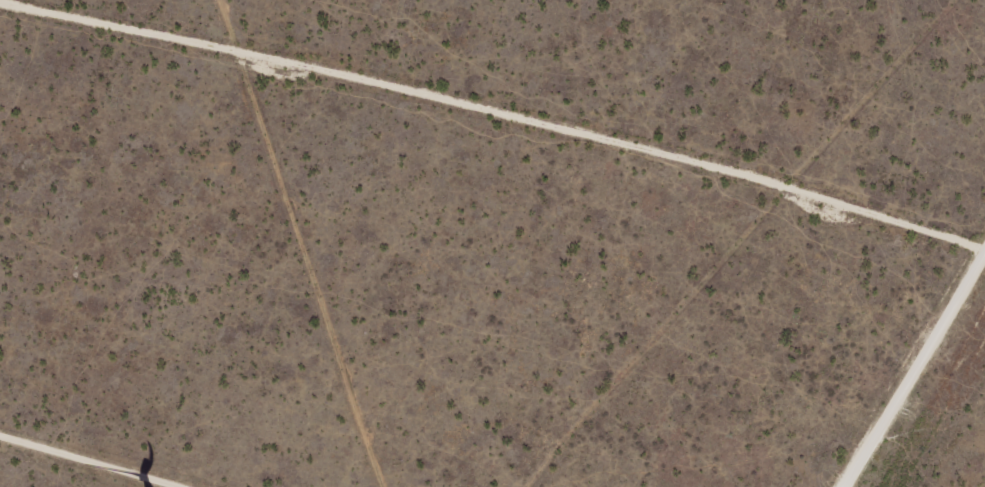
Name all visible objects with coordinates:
road: (770, 234)

